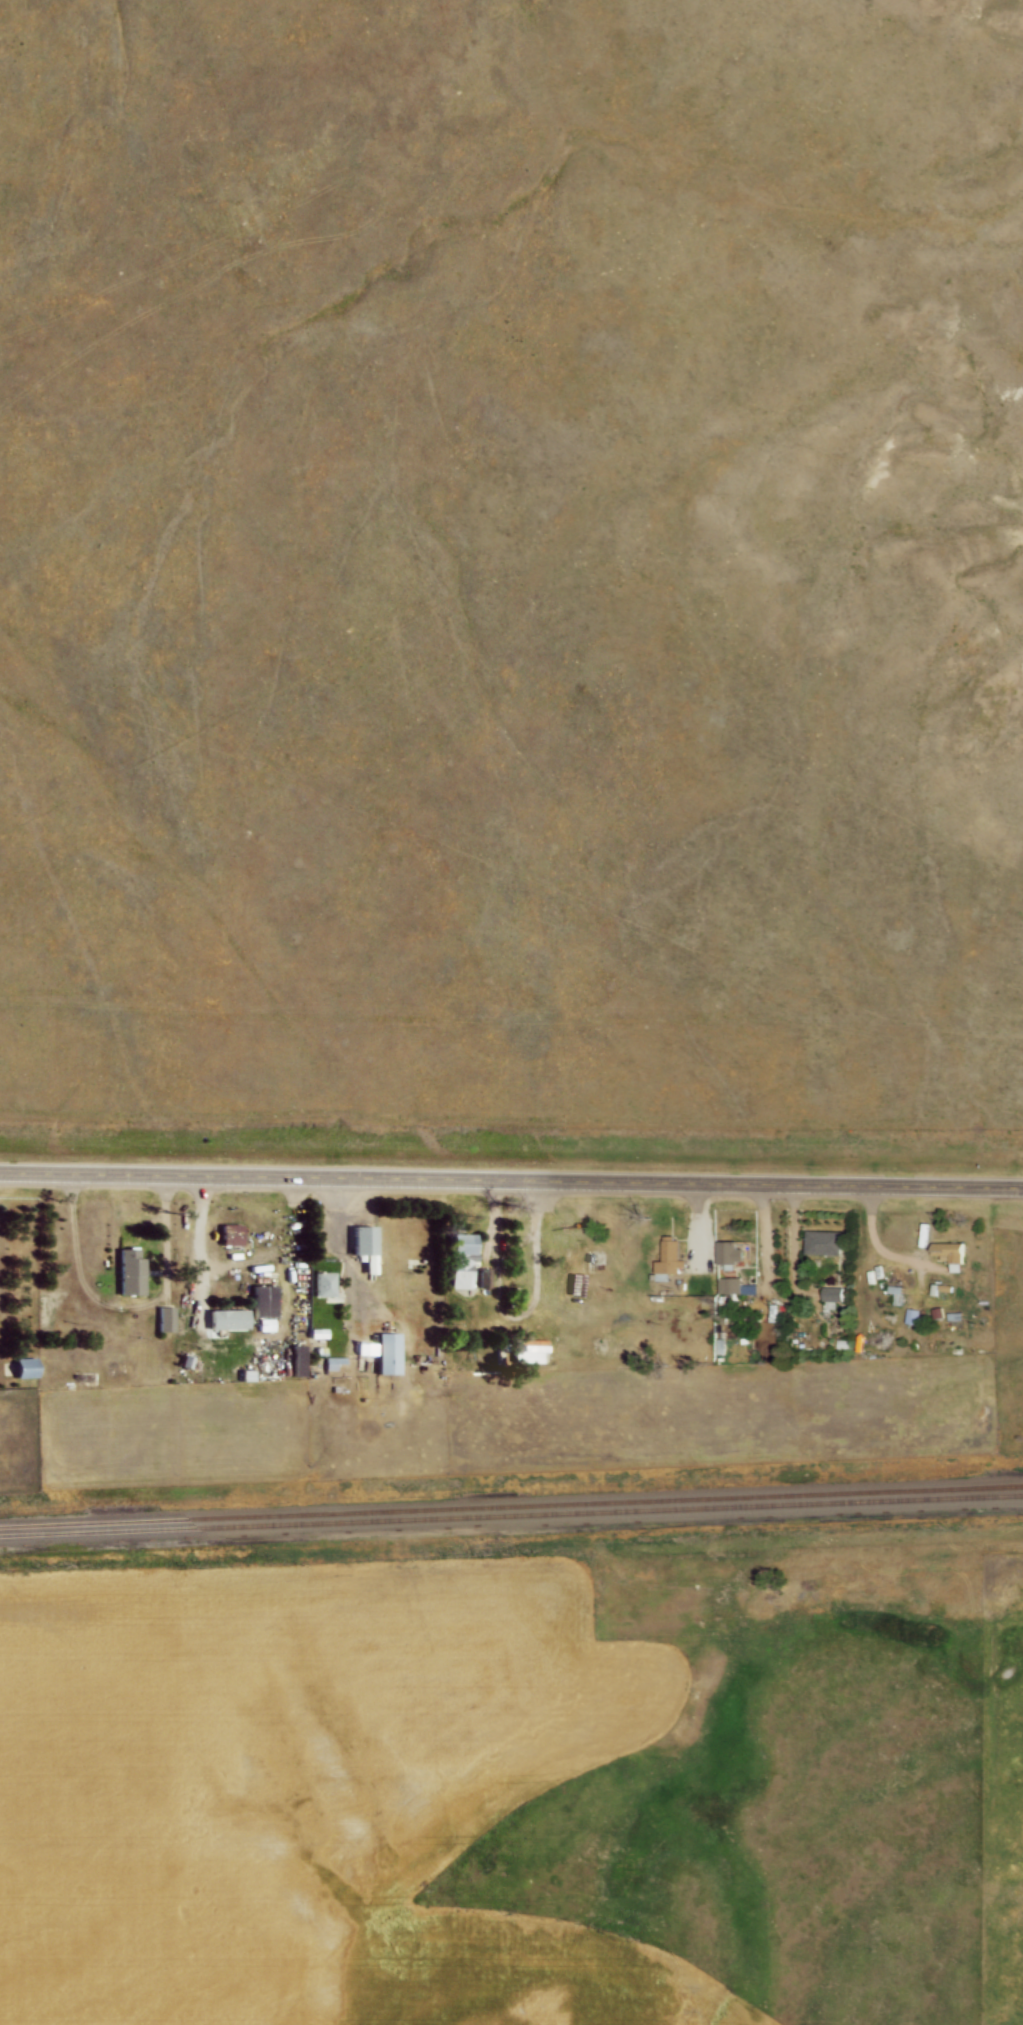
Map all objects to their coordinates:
road: (511, 1178)
building: (234, 1233)
building: (365, 1242)
building: (464, 1243)
building: (827, 1244)
road: (881, 1248)
building: (951, 1250)
building: (730, 1253)
road: (344, 1255)
road: (538, 1255)
building: (598, 1255)
building: (672, 1261)
building: (133, 1272)
building: (471, 1279)
building: (731, 1284)
building: (325, 1285)
building: (833, 1292)
road: (782, 1296)
building: (893, 1296)
building: (260, 1310)
building: (914, 1314)
building: (168, 1318)
building: (236, 1318)
building: (322, 1332)
building: (384, 1351)
building: (338, 1363)
building: (26, 1366)
railway: (511, 1506)
railway: (511, 1514)
crop: (300, 1792)

